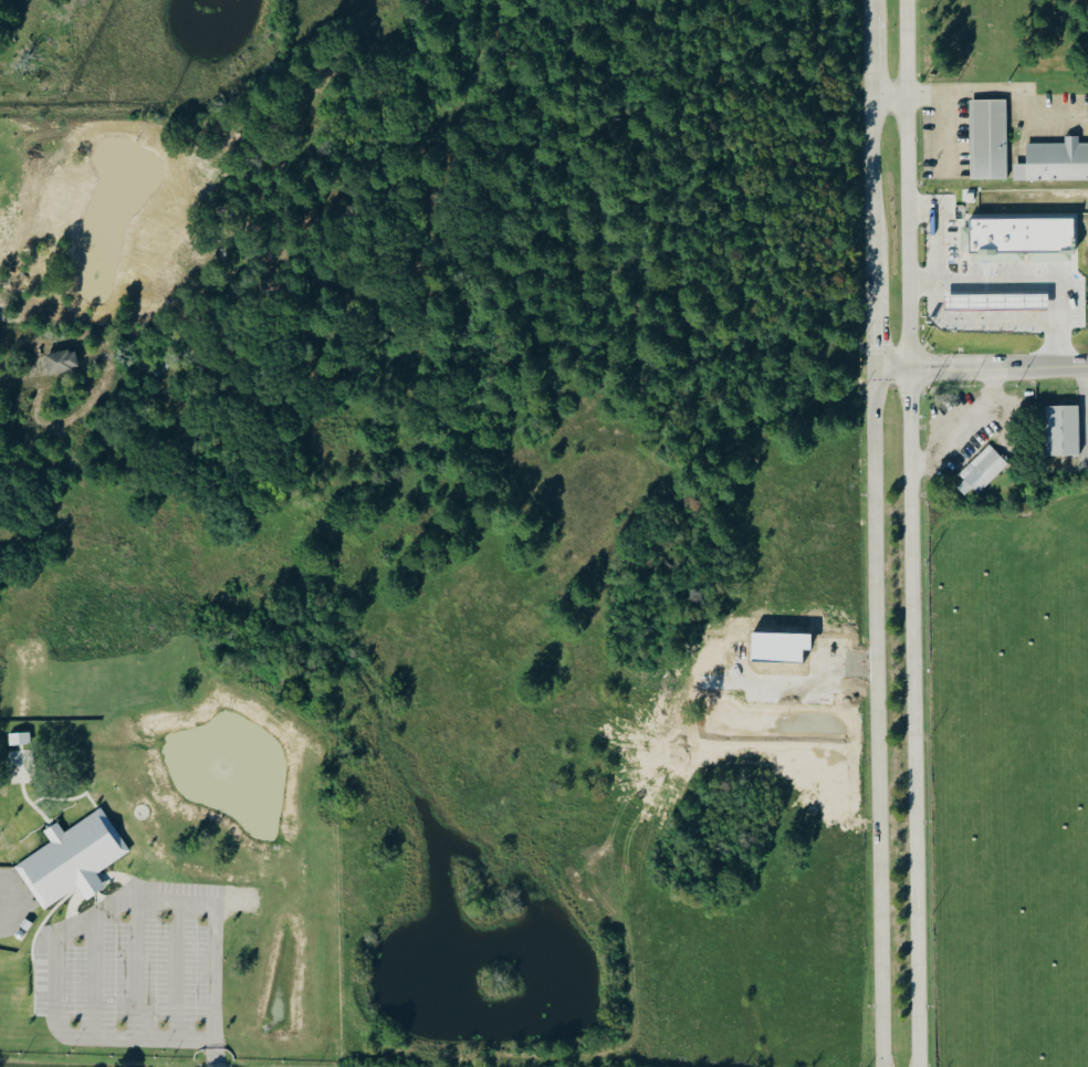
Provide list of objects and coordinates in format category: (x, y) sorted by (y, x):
road: (1002, 91)
road: (889, 95)
road: (944, 129)
building: (988, 138)
building: (1055, 160)
building: (1023, 239)
road: (938, 244)
road: (1033, 285)
building: (991, 310)
road: (975, 323)
building: (61, 362)
road: (980, 366)
traffic signals: (873, 367)
traffic signals: (910, 368)
road: (1087, 395)
road: (966, 427)
building: (1063, 430)
building: (982, 470)
road: (876, 533)
road: (911, 533)
building: (19, 739)
crop: (1007, 778)
building: (73, 859)
road: (70, 932)
road: (205, 1058)

